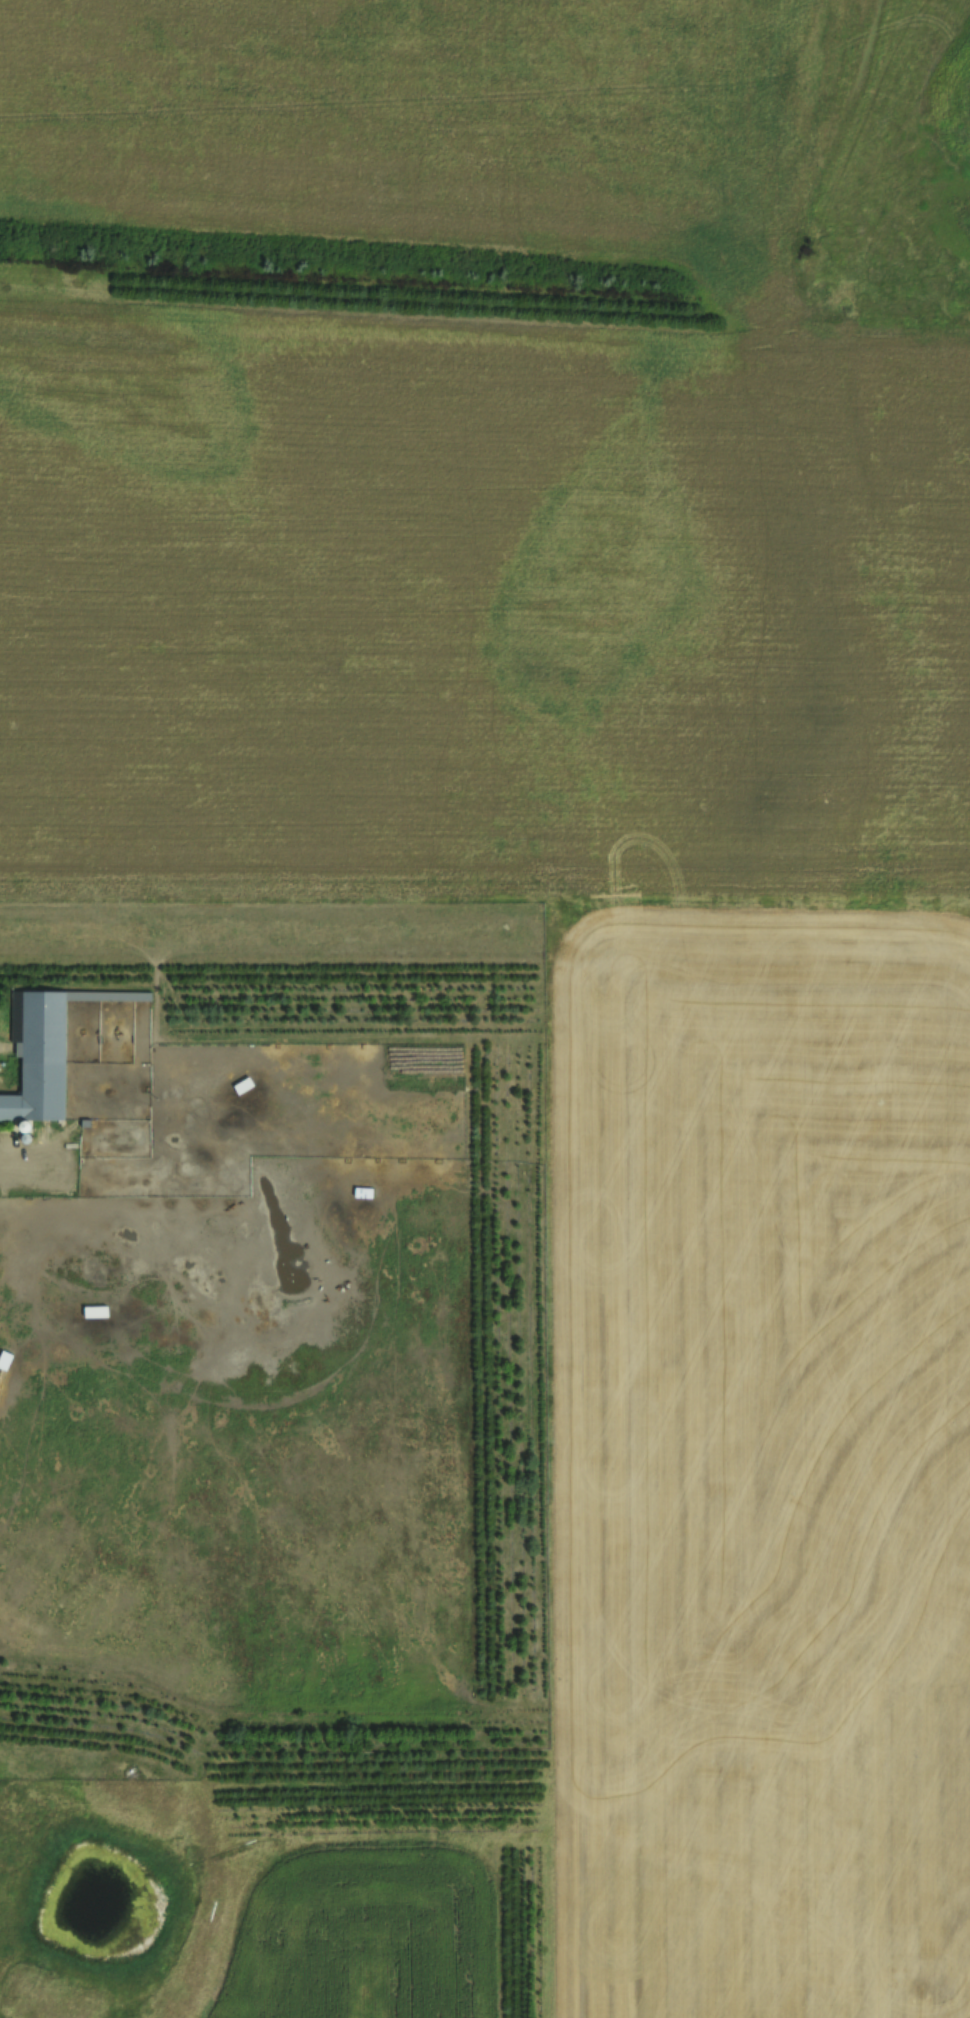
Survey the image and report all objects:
building: (47, 1052)
building: (241, 1086)
building: (361, 1193)
building: (94, 1311)
building: (4, 1359)

